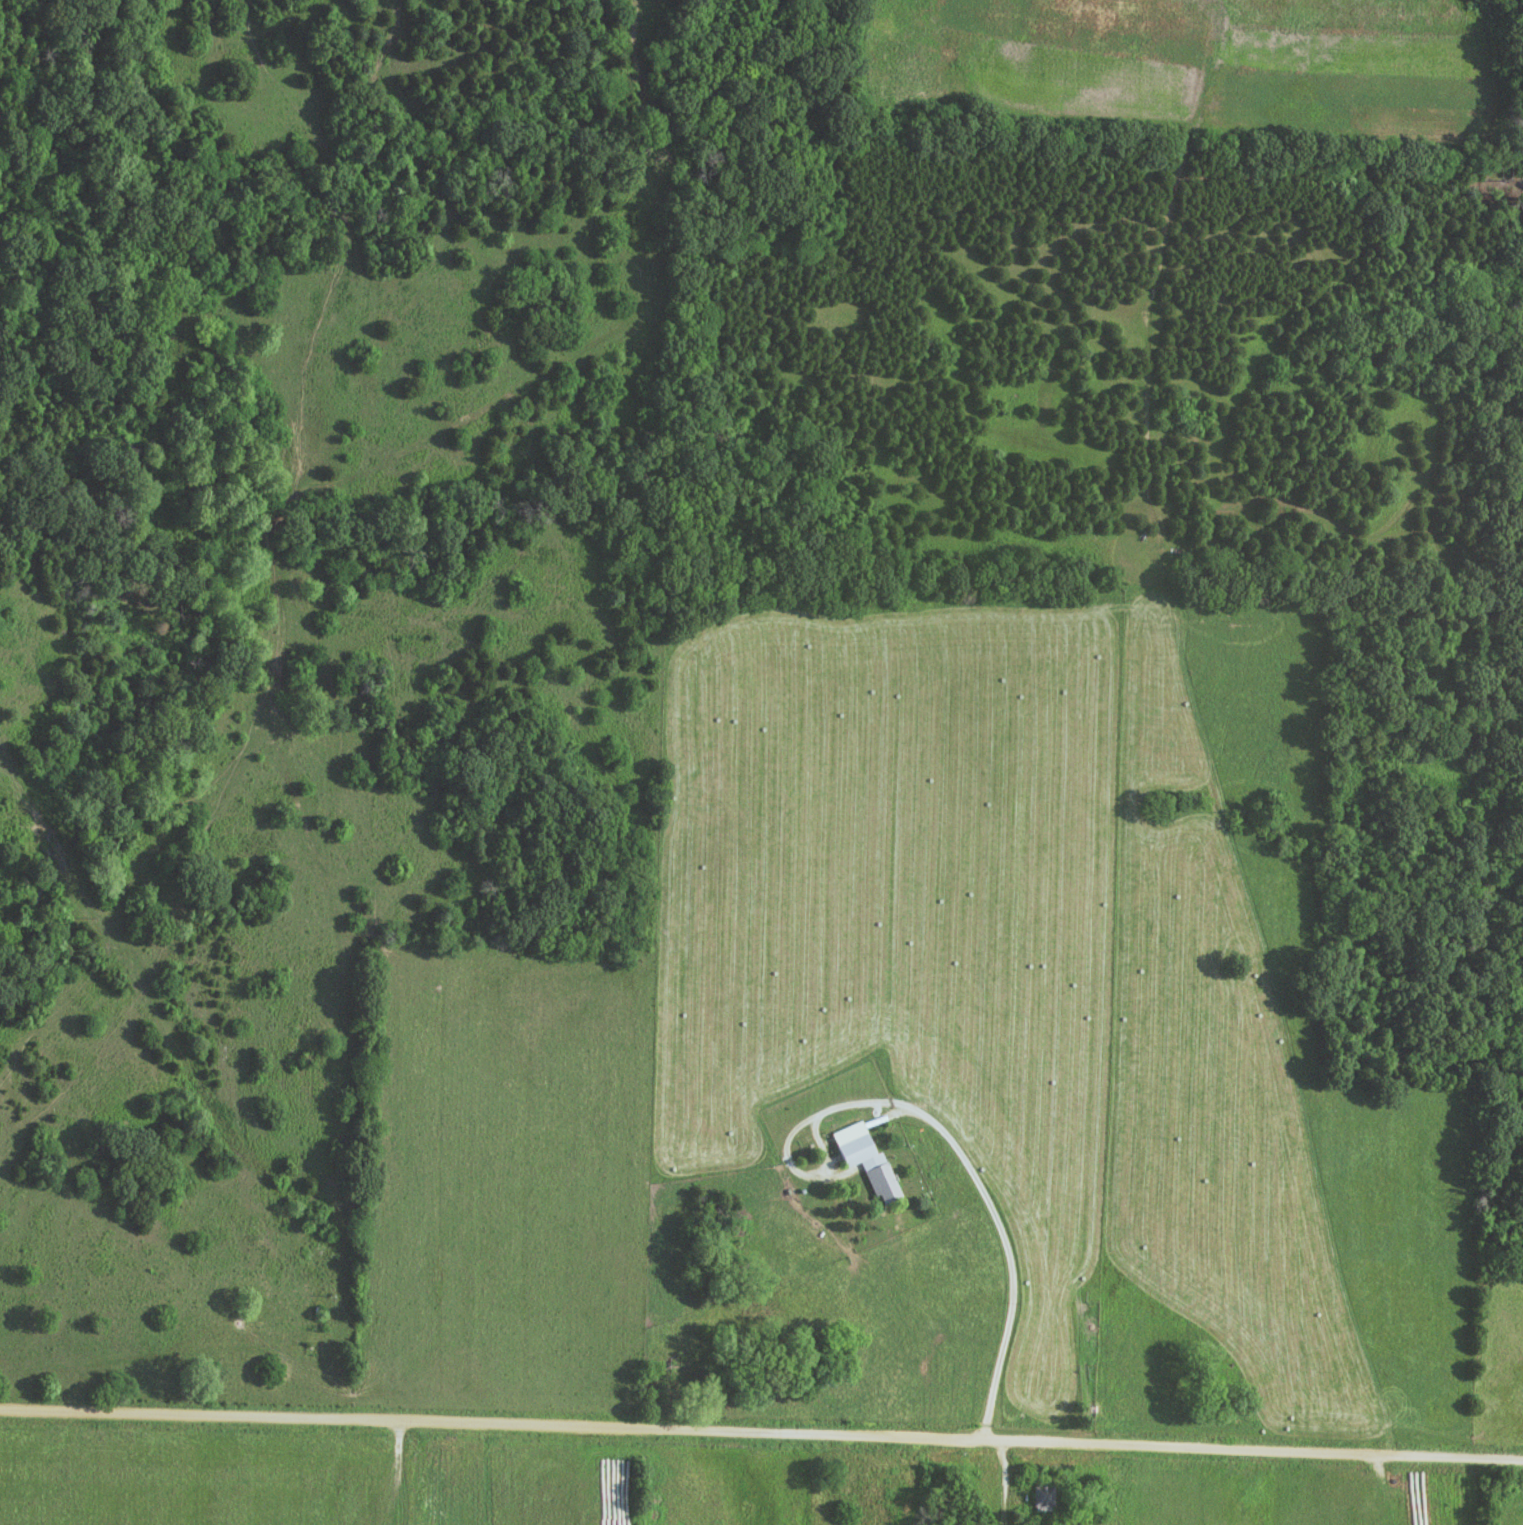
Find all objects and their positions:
road: (969, 1162)
building: (870, 1167)
road: (761, 1431)
road: (1010, 1482)
road: (1092, 1484)
building: (1043, 1497)

